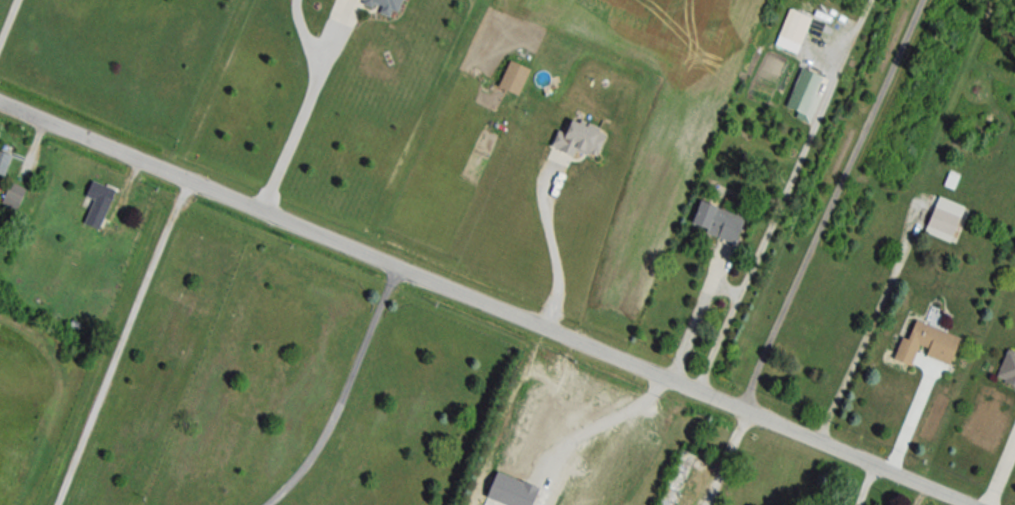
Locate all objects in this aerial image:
building: (383, 4)
road: (10, 23)
building: (794, 26)
building: (512, 77)
building: (804, 95)
road: (307, 114)
building: (579, 138)
building: (4, 163)
crop: (657, 182)
building: (12, 196)
road: (830, 203)
building: (97, 205)
building: (943, 219)
building: (716, 221)
road: (552, 243)
road: (485, 304)
road: (698, 314)
road: (866, 333)
road: (123, 344)
building: (927, 344)
building: (1007, 369)
road: (347, 392)
road: (912, 413)
road: (722, 457)
road: (1001, 472)
building: (677, 477)
road: (866, 481)

